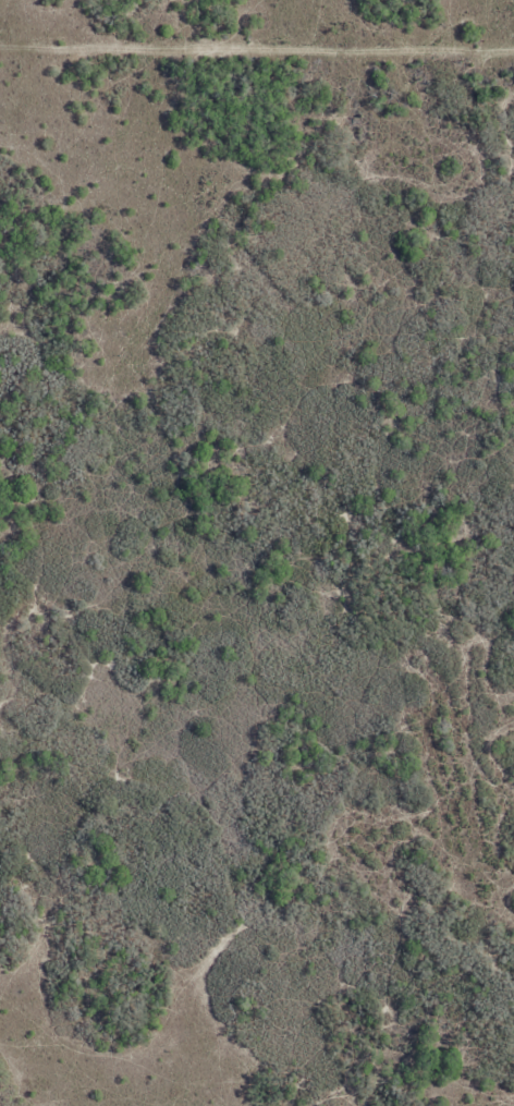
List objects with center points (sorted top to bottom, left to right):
road: (257, 85)

